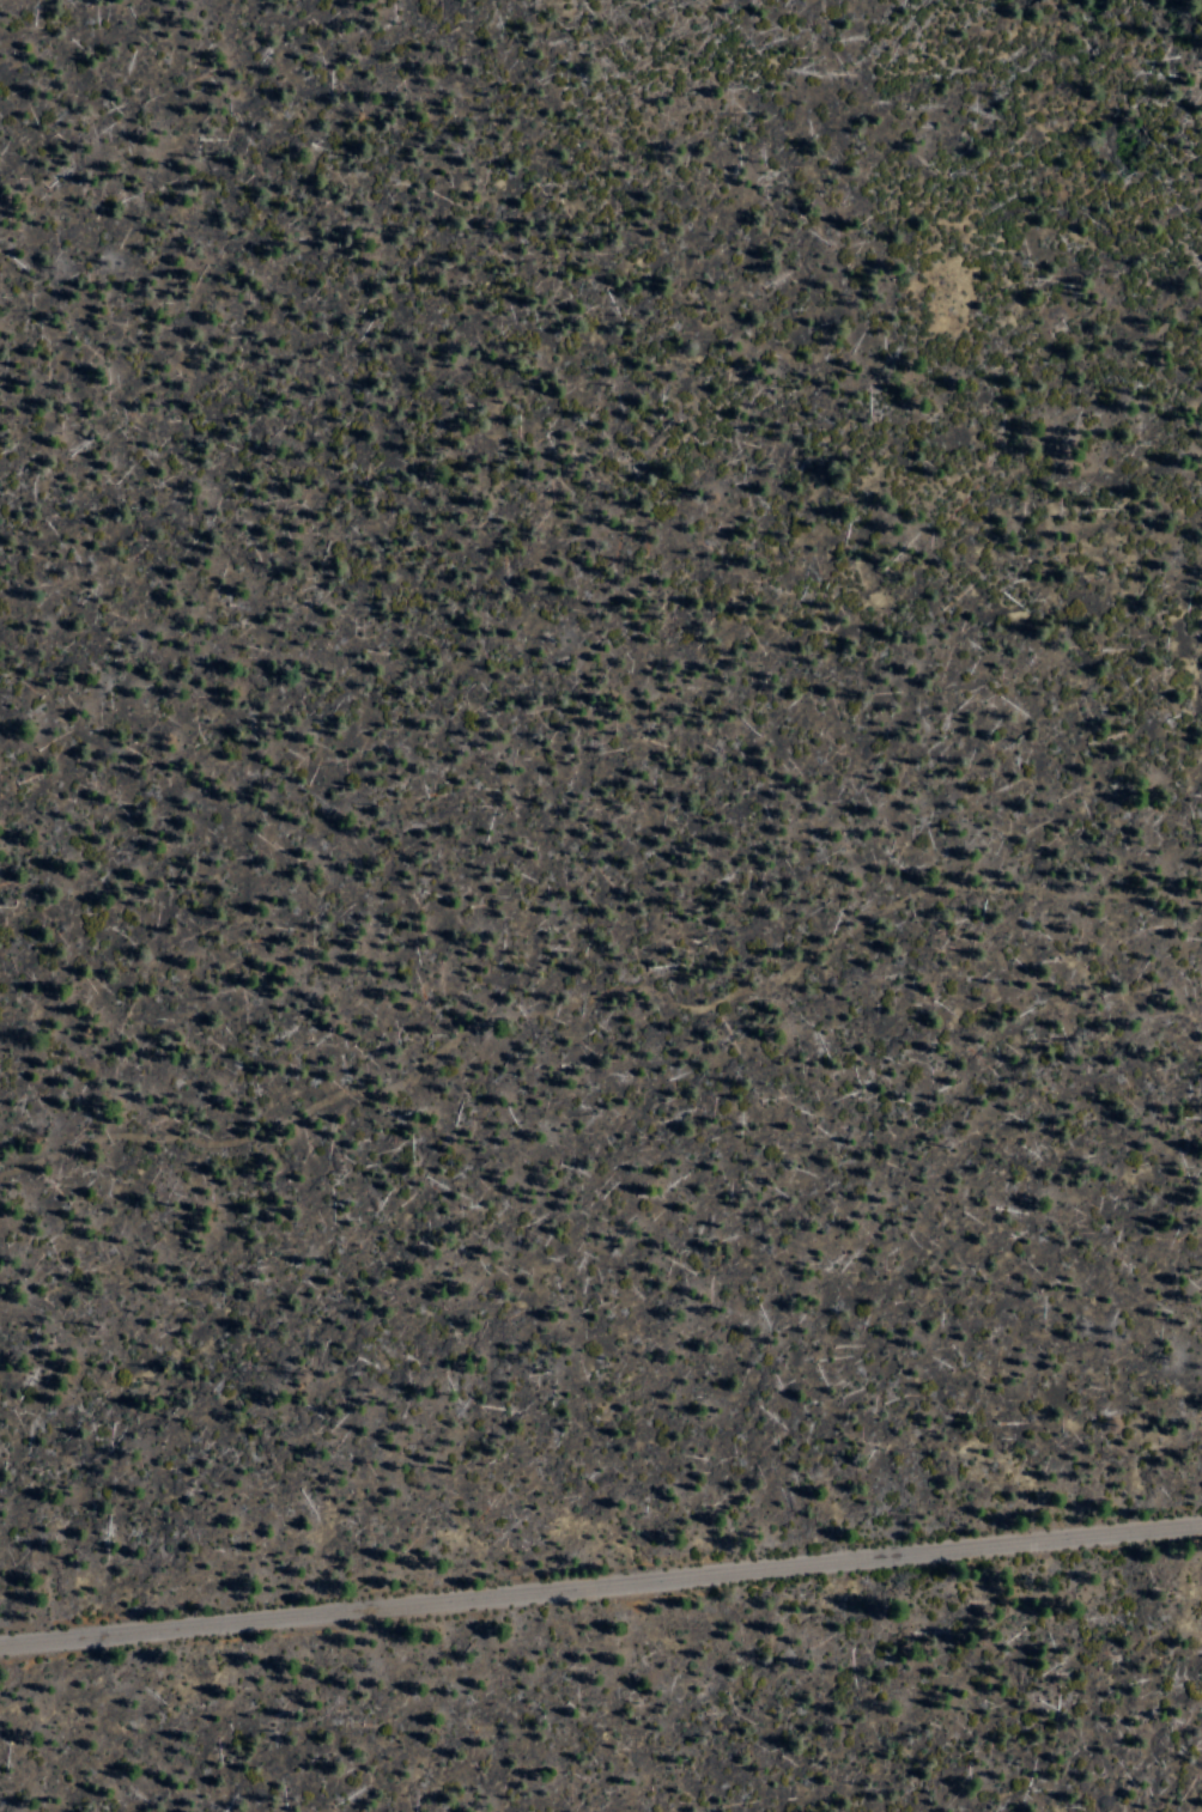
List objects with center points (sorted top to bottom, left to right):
road: (601, 1594)

